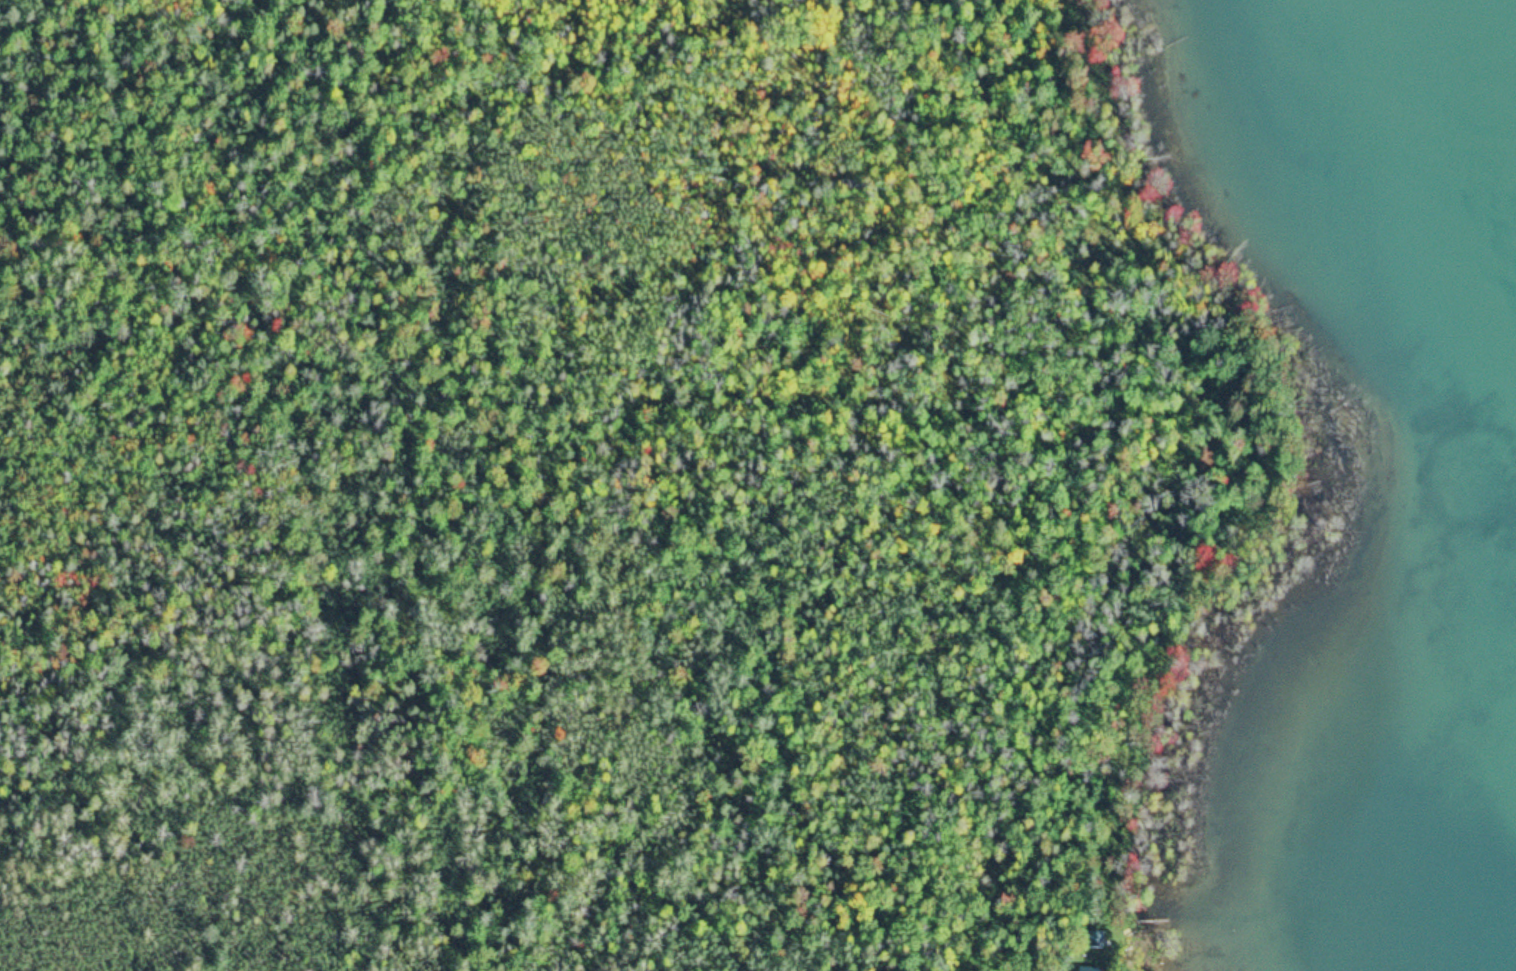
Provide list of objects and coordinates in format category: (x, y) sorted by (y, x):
building: (1092, 969)

